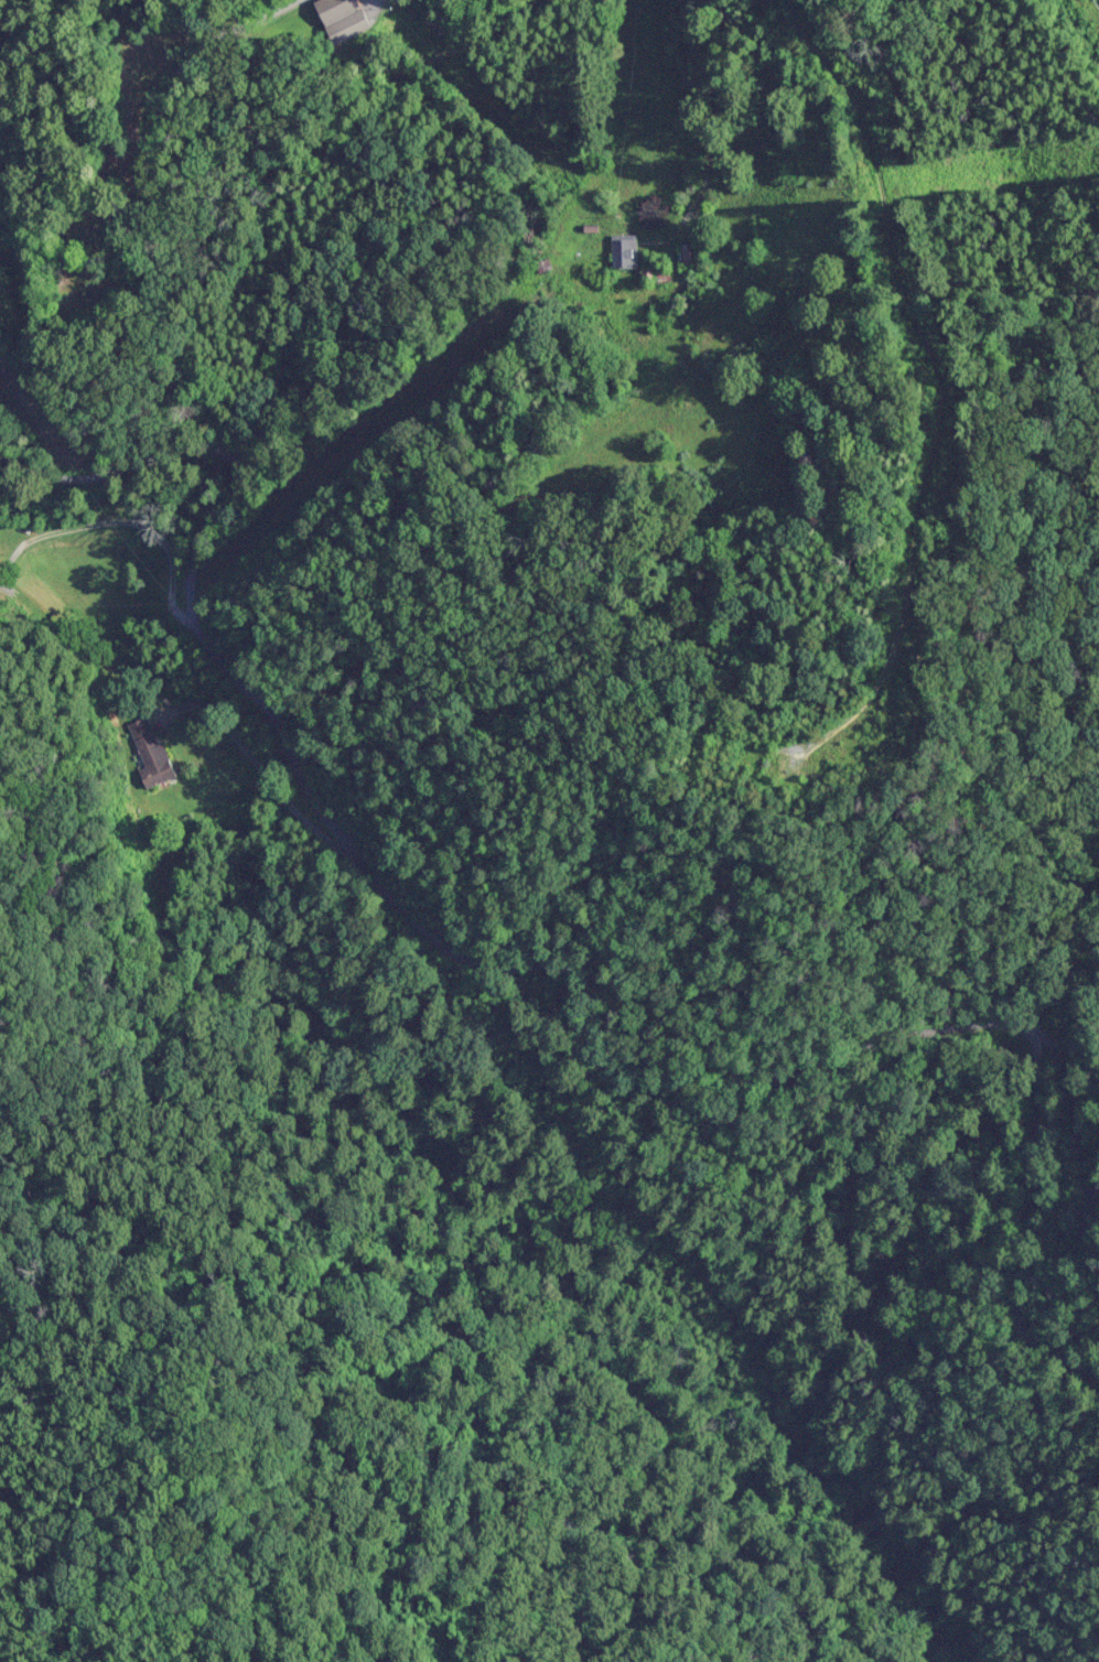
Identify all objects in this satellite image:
building: (337, 10)
road: (659, 41)
road: (208, 56)
road: (346, 86)
road: (97, 195)
building: (626, 251)
building: (693, 253)
road: (187, 693)
building: (152, 752)
road: (547, 937)
road: (563, 967)
road: (1022, 1313)

